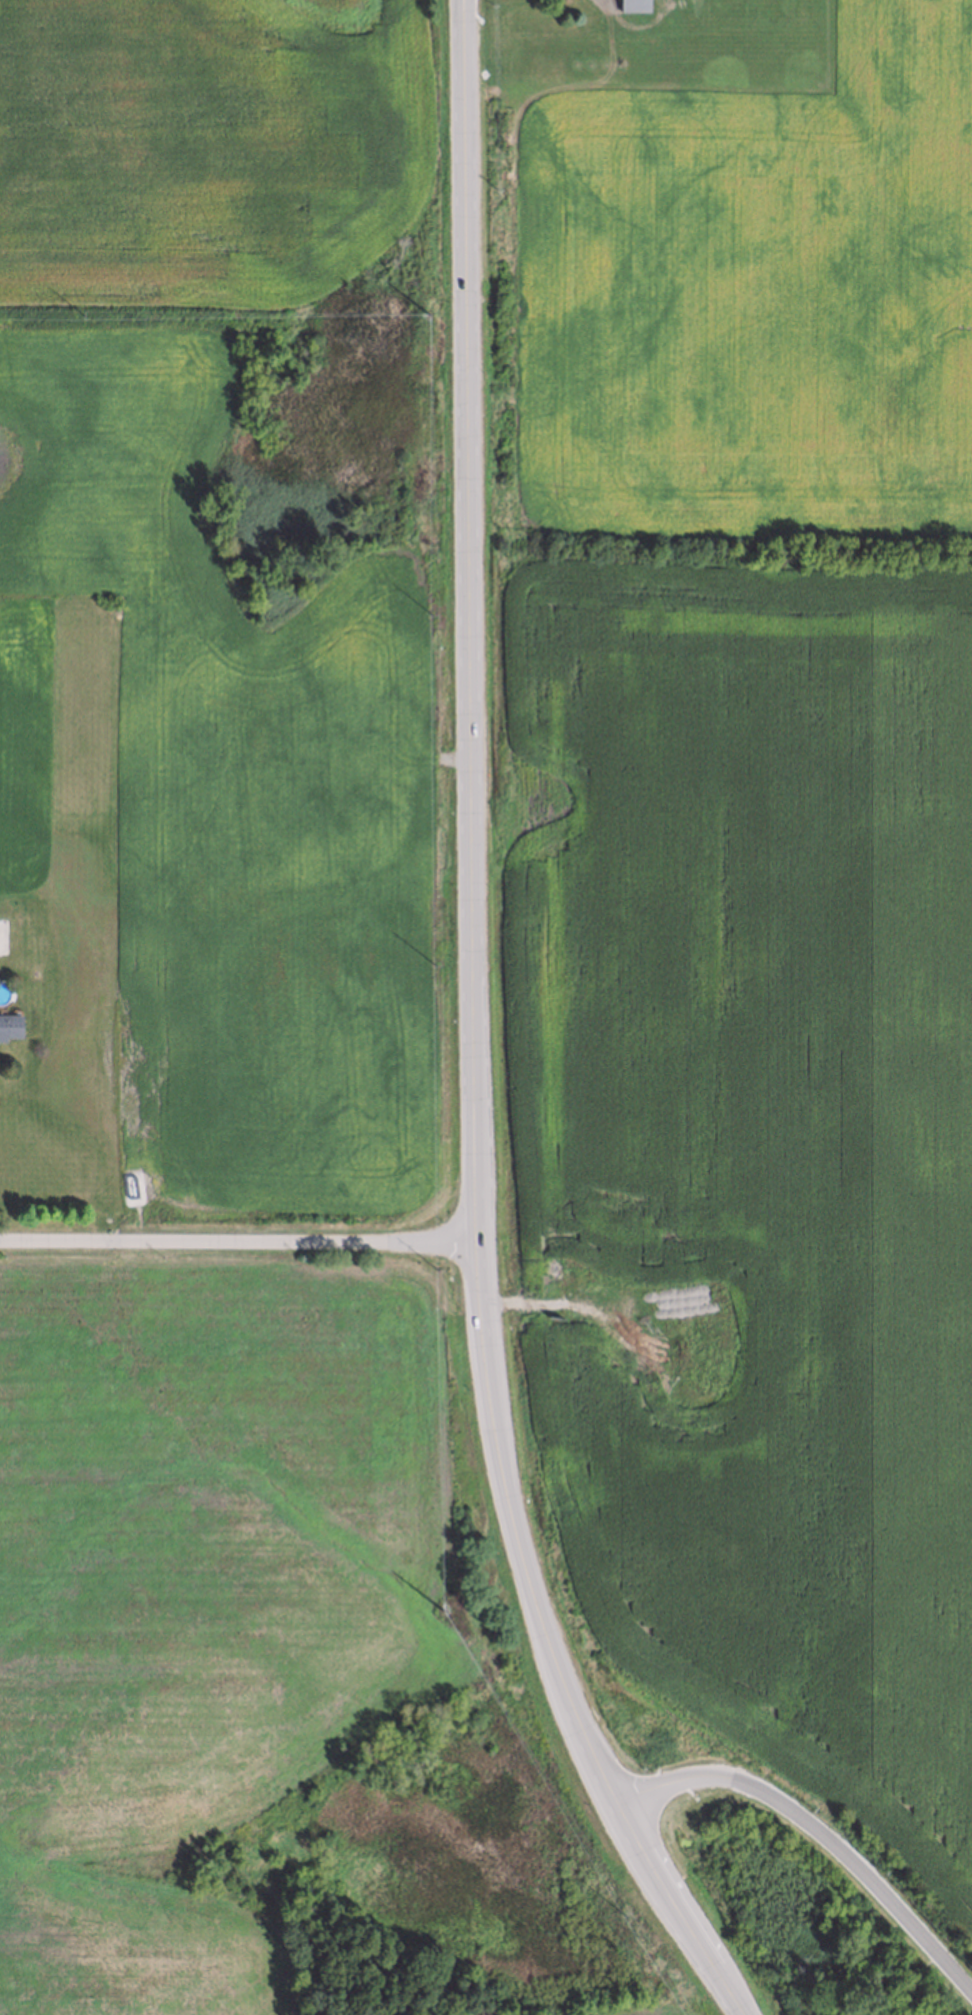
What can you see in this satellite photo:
building: (634, 5)
power tower: (430, 313)
building: (8, 1027)
road: (474, 1037)
building: (536, 1237)
road: (238, 1238)
building: (667, 1238)
building: (697, 1340)
building: (686, 1364)
power tower: (442, 1608)
road: (822, 1827)

